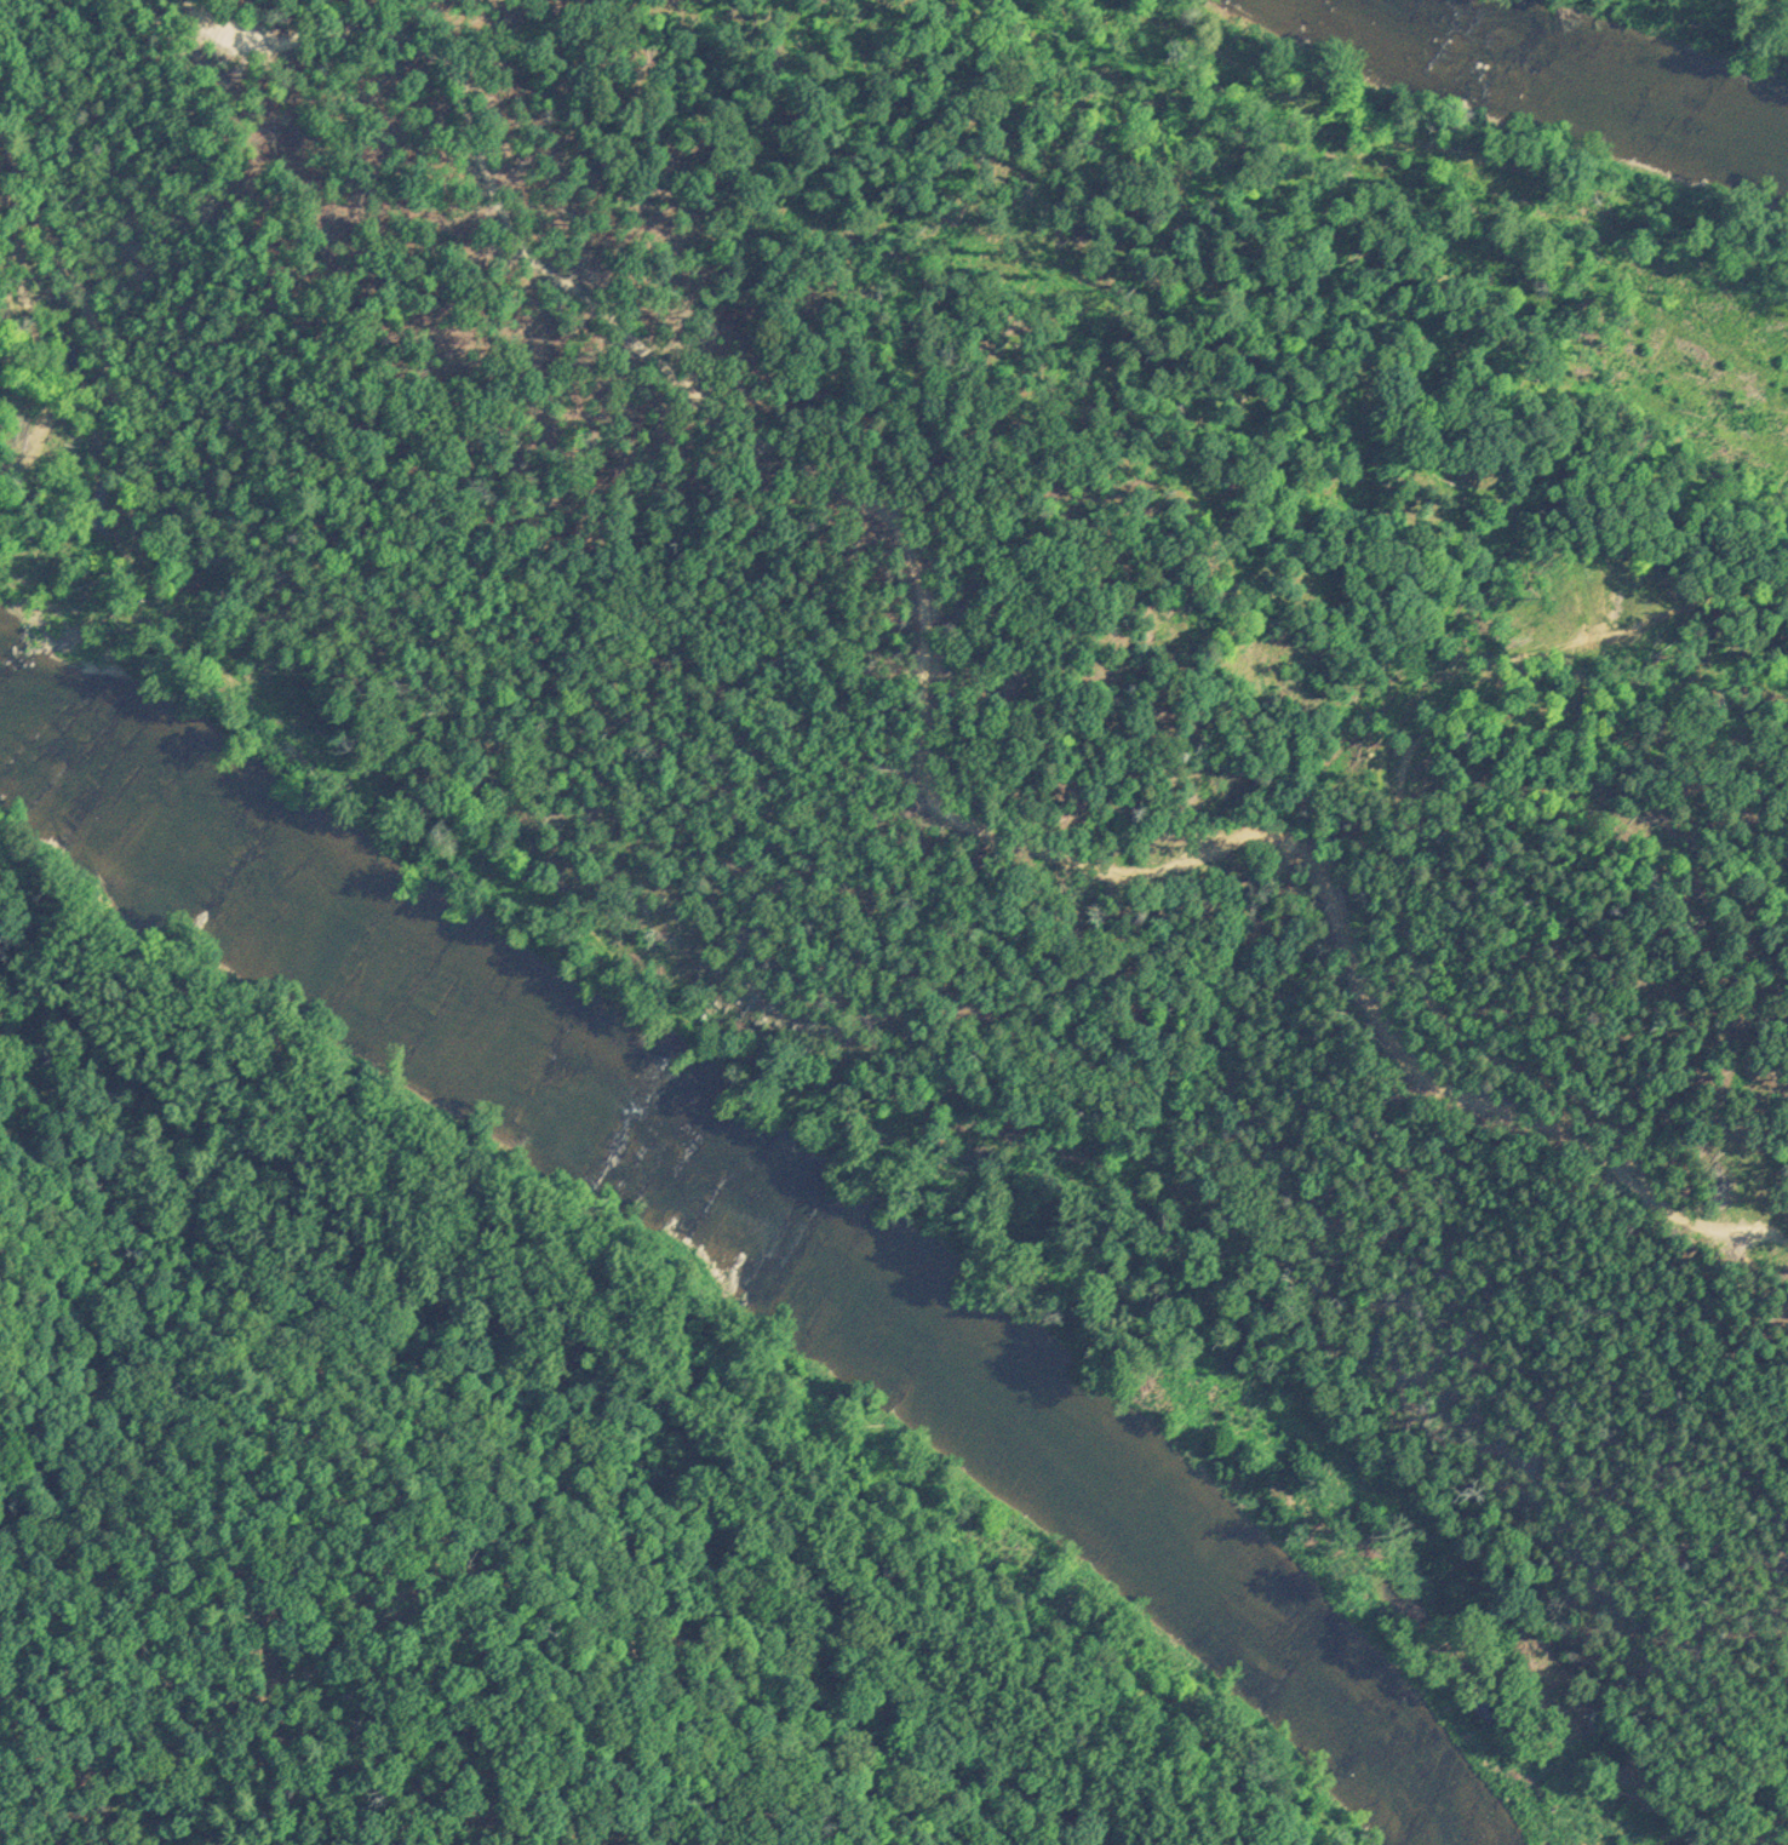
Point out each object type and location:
river: (1608, 84)
river: (772, 1224)

